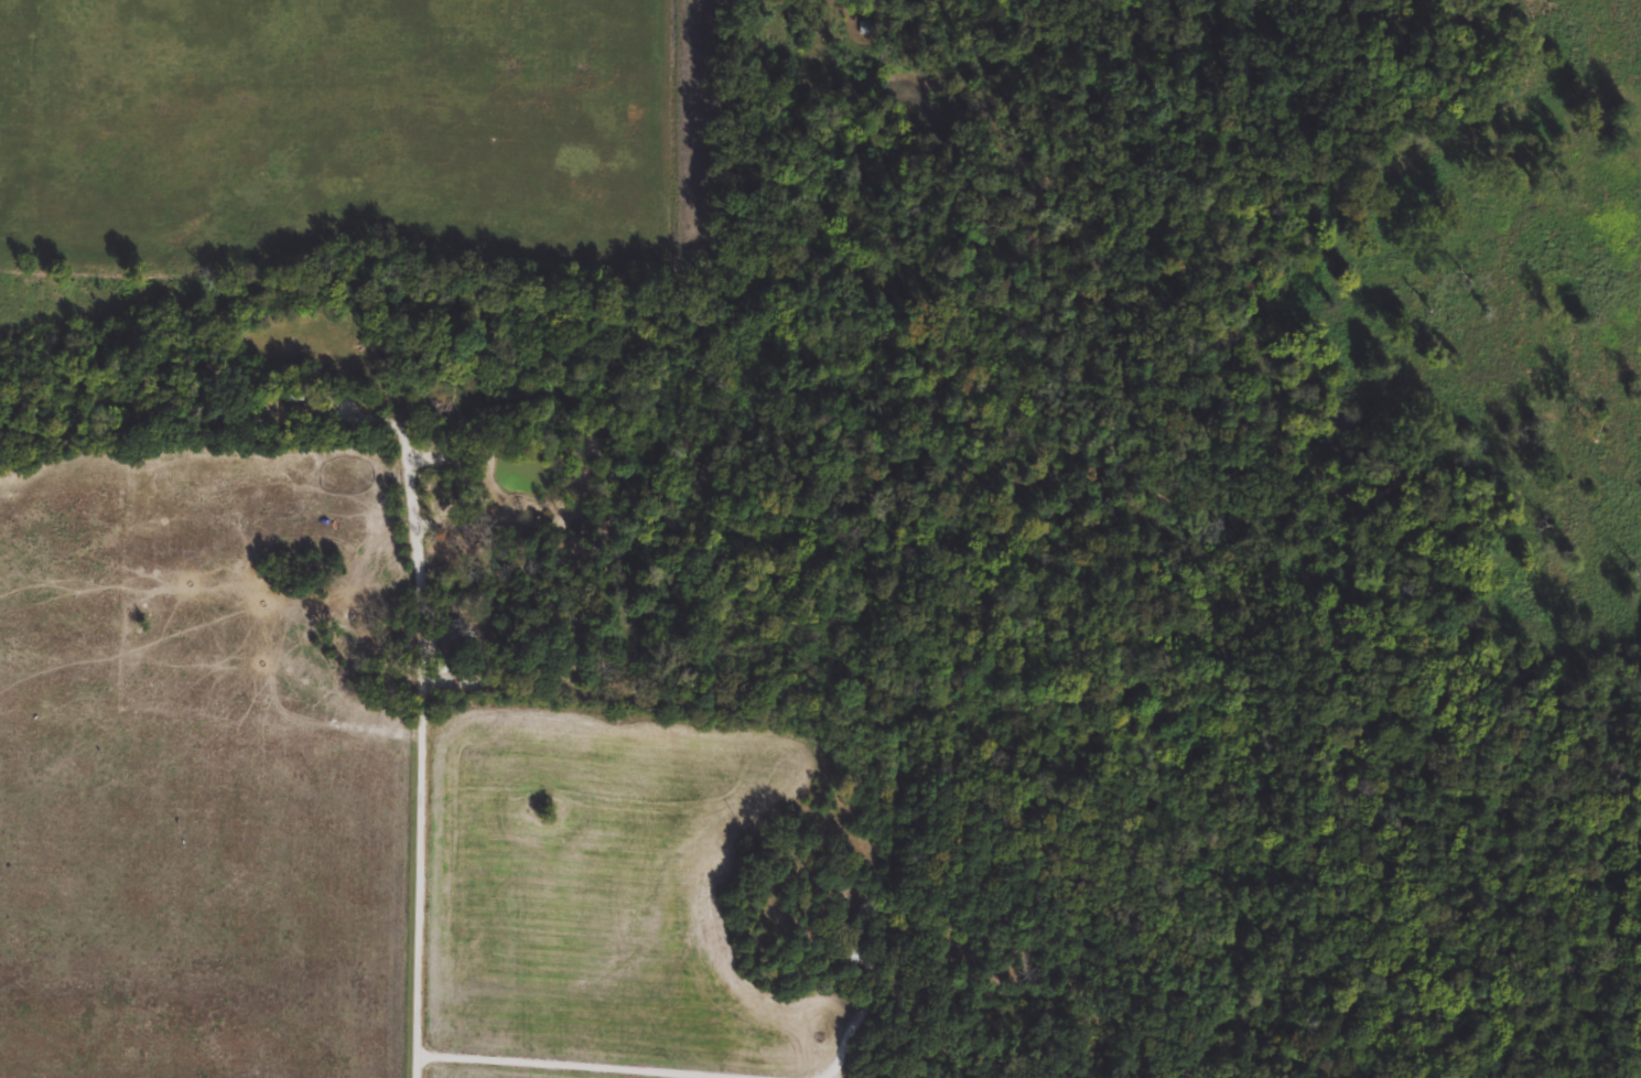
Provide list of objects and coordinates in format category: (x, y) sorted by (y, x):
building: (439, 434)
building: (451, 642)
road: (585, 660)
road: (419, 768)

